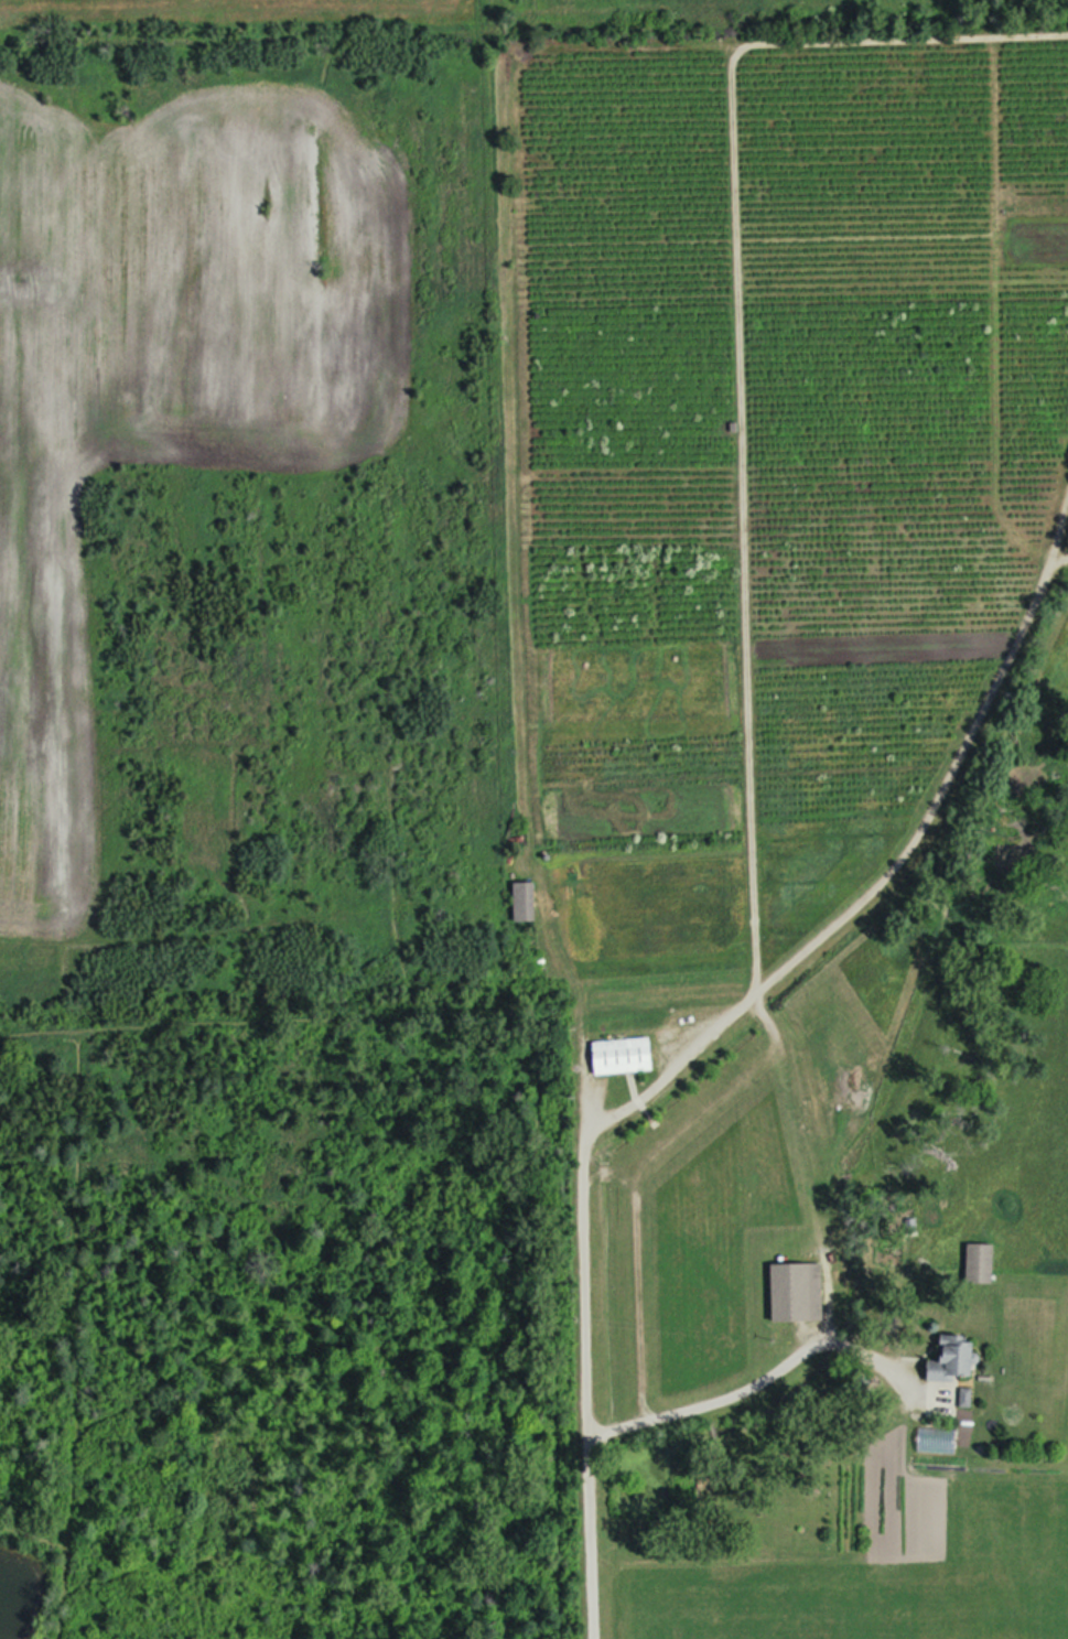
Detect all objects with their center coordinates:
building: (527, 903)
building: (625, 1057)
road: (590, 1252)
building: (981, 1264)
building: (800, 1292)
building: (954, 1362)
road: (682, 1410)

